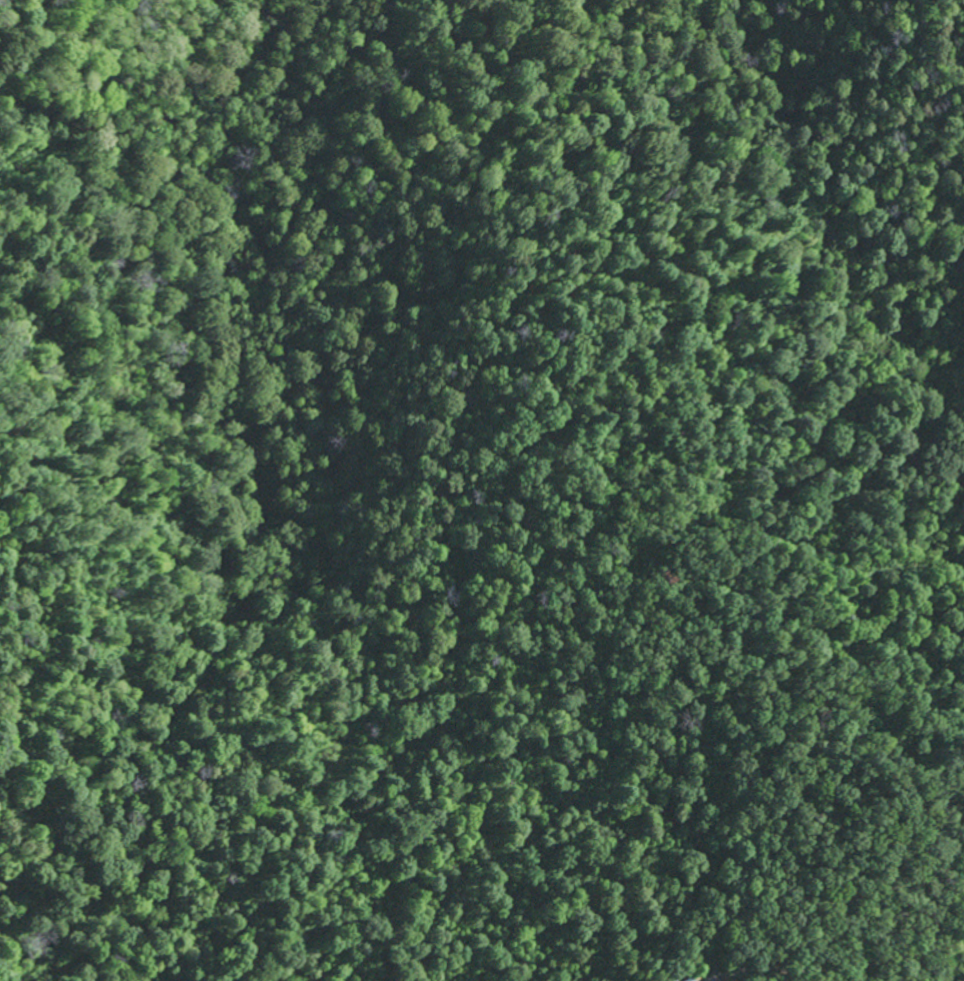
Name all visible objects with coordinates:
road: (869, 933)

